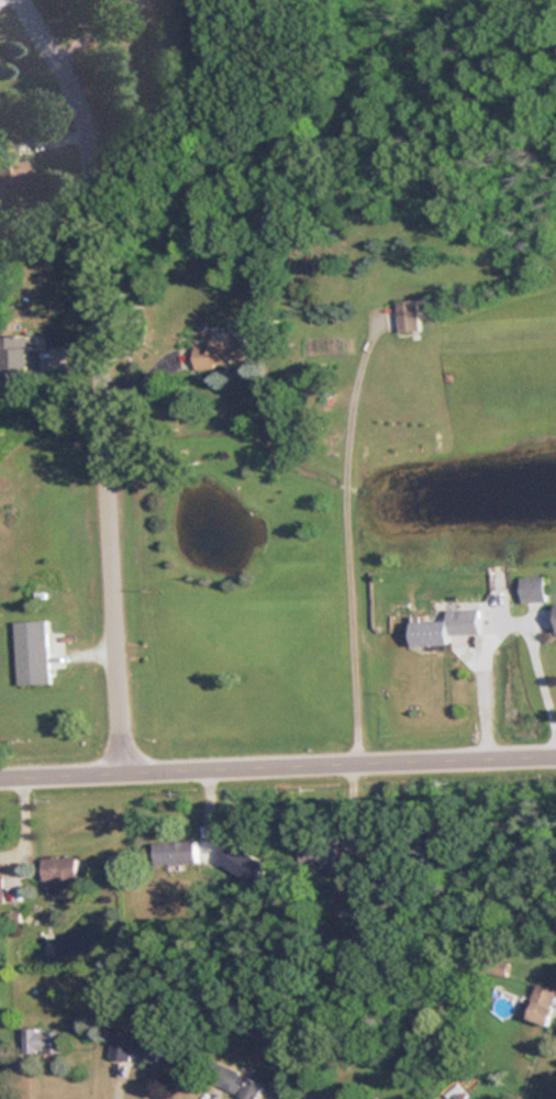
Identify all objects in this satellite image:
building: (405, 315)
building: (218, 352)
building: (14, 359)
road: (105, 374)
road: (349, 536)
building: (532, 589)
building: (555, 612)
road: (507, 620)
building: (444, 626)
building: (30, 653)
road: (277, 761)
building: (175, 852)
building: (318, 854)
building: (58, 874)
building: (0, 877)
building: (347, 882)
building: (541, 1004)
building: (40, 1042)
building: (133, 1048)
building: (235, 1084)

